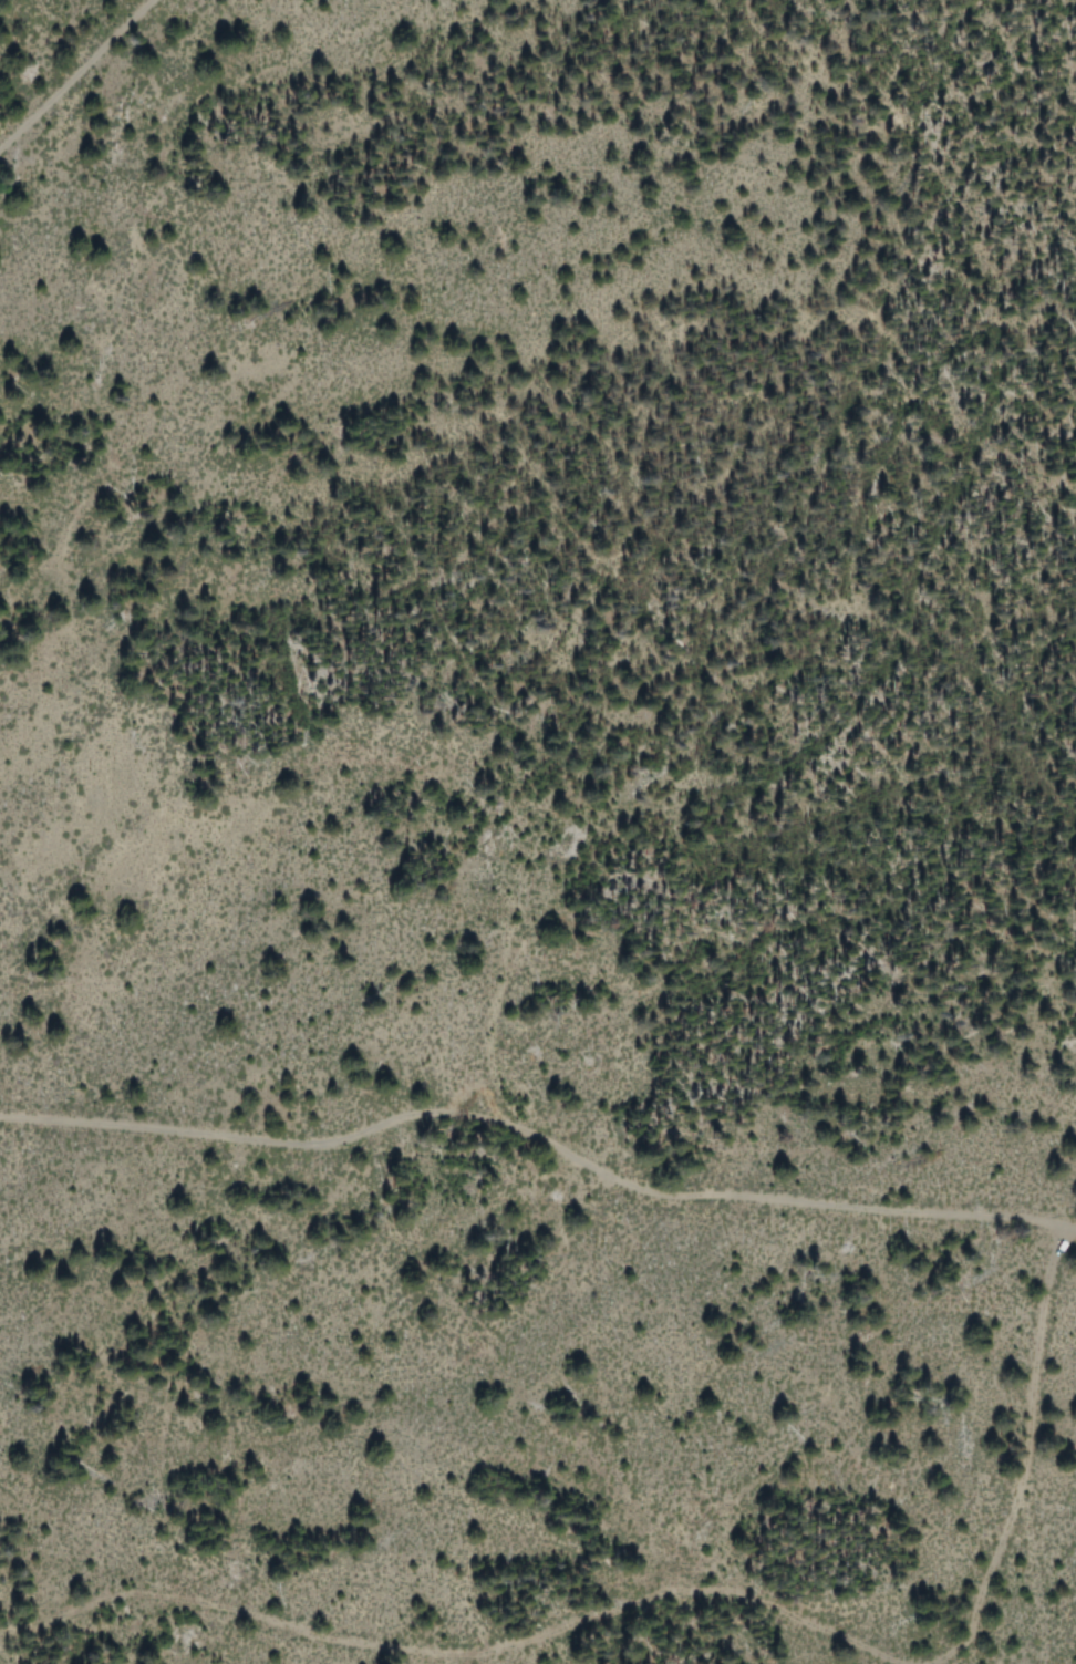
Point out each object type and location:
road: (541, 1136)

